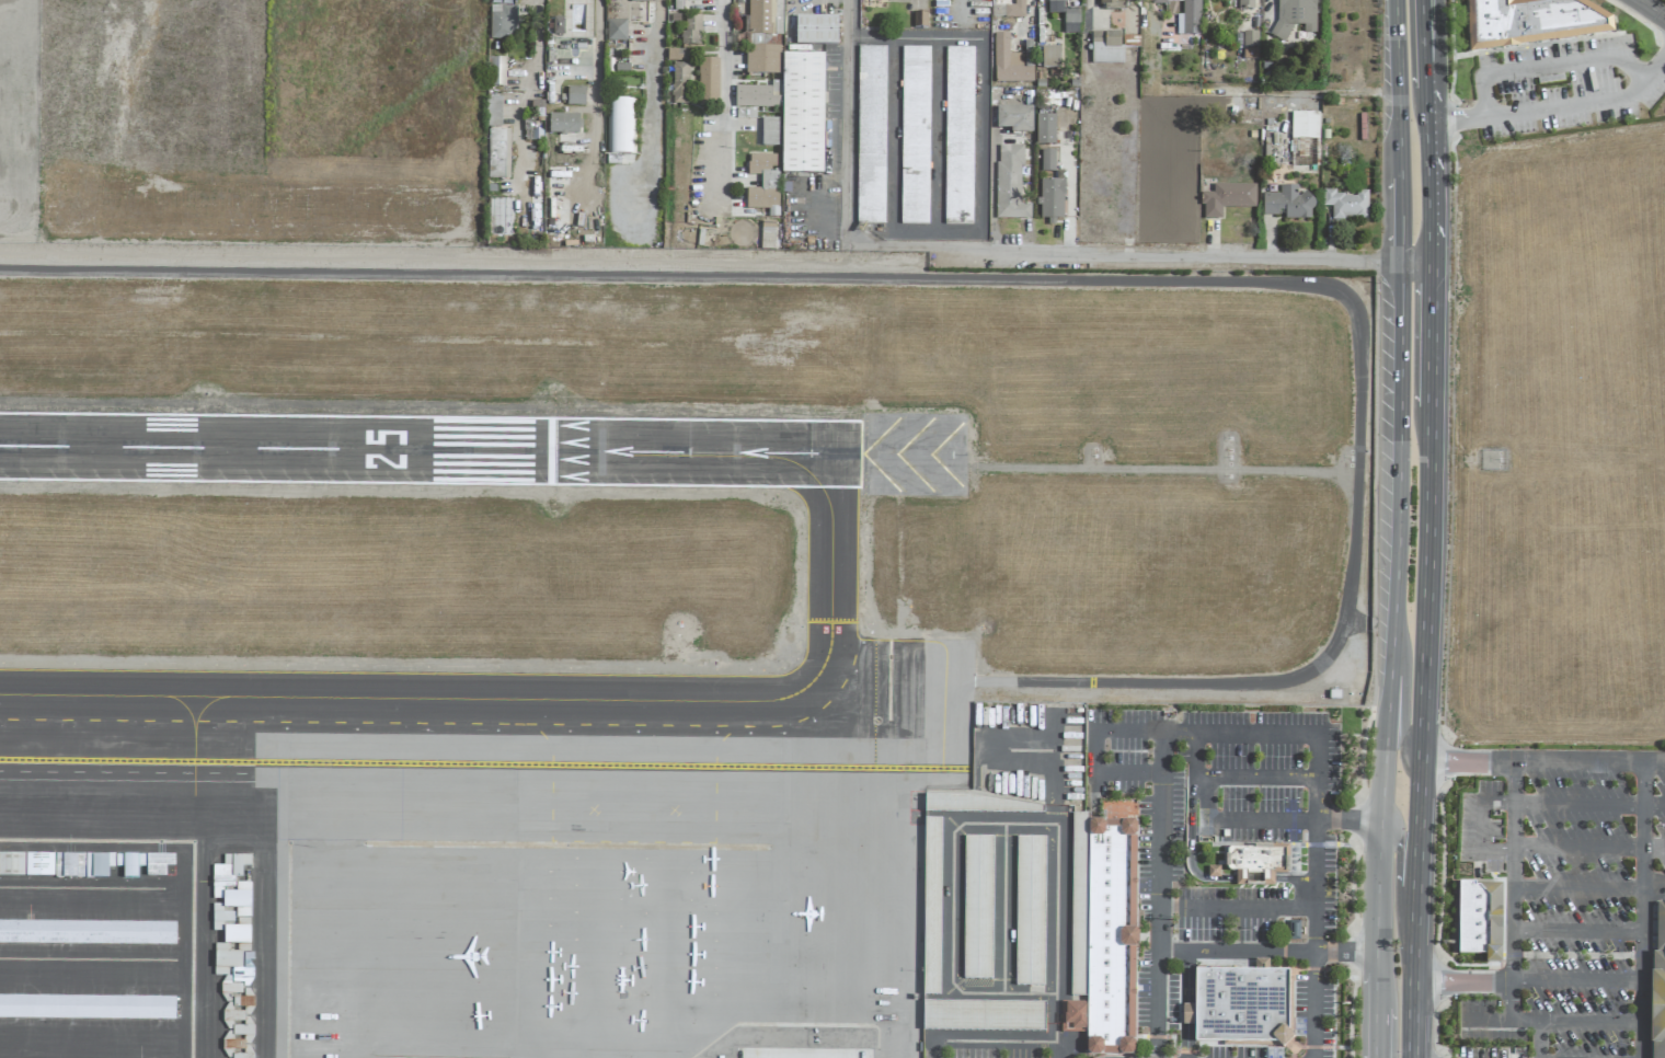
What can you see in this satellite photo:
building: (611, 0)
building: (1058, 0)
building: (640, 1)
building: (1107, 4)
building: (1244, 4)
road: (1651, 9)
building: (1009, 10)
building: (1070, 18)
building: (1294, 18)
building: (919, 20)
road: (939, 20)
building: (1185, 20)
building: (1534, 22)
building: (502, 23)
building: (762, 23)
building: (558, 25)
building: (616, 31)
building: (815, 31)
building: (691, 32)
road: (896, 39)
road: (536, 41)
building: (1250, 45)
road: (1426, 45)
building: (1106, 47)
building: (676, 55)
building: (1050, 58)
building: (761, 60)
building: (1010, 62)
road: (1547, 64)
road: (1655, 64)
building: (496, 72)
building: (708, 82)
building: (679, 83)
road: (1394, 89)
building: (575, 96)
road: (655, 96)
road: (595, 97)
building: (754, 97)
road: (724, 100)
road: (1427, 104)
road: (1541, 107)
building: (492, 112)
building: (801, 114)
road: (852, 115)
building: (1014, 118)
building: (563, 124)
building: (1304, 126)
building: (619, 127)
building: (1044, 129)
building: (769, 131)
building: (872, 137)
road: (893, 137)
road: (938, 137)
building: (958, 137)
building: (915, 138)
building: (497, 154)
building: (1046, 161)
building: (762, 182)
building: (1009, 184)
road: (1069, 187)
road: (981, 189)
road: (1429, 189)
building: (1227, 199)
building: (1050, 200)
building: (1287, 204)
building: (1345, 205)
road: (1398, 219)
road: (812, 227)
road: (905, 246)
road: (1170, 260)
road: (1414, 261)
road: (1018, 279)
road: (1429, 334)
crop: (1560, 441)
airport runway: (432, 452)
airport runway: (863, 453)
airport taxiway: (860, 610)
road: (1392, 617)
airport: (604, 619)
airport taxiway: (555, 702)
road: (1403, 702)
road: (1175, 731)
road: (1272, 732)
road: (1421, 733)
road: (1158, 752)
road: (1467, 763)
road: (1588, 763)
road: (1254, 774)
road: (1209, 797)
road: (1316, 797)
building: (977, 804)
road: (1588, 804)
road: (1262, 820)
road: (1347, 820)
road: (1187, 821)
road: (1480, 825)
road: (1157, 833)
road: (1588, 848)
building: (1256, 863)
building: (38, 864)
building: (110, 864)
building: (11, 865)
building: (68, 865)
building: (1213, 872)
road: (1253, 878)
road: (1294, 878)
building: (231, 885)
road: (1396, 887)
road: (1588, 890)
parking lot: (1566, 898)
building: (938, 907)
building: (981, 907)
road: (1236, 909)
road: (1642, 910)
building: (1034, 911)
building: (220, 919)
building: (1479, 920)
airport apron: (458, 921)
road: (1509, 924)
building: (1293, 930)
building: (1660, 930)
road: (1575, 931)
building: (89, 933)
building: (1102, 934)
road: (1313, 939)
road: (1265, 950)
road: (1185, 975)
road: (1575, 980)
road: (1461, 981)
road: (1376, 992)
building: (1239, 1007)
building: (1660, 1007)
building: (89, 1009)
road: (1185, 1012)
building: (988, 1016)
road: (1588, 1020)
road: (1484, 1022)
road: (1375, 1034)
road: (997, 1038)
road: (1184, 1040)
building: (232, 1044)

